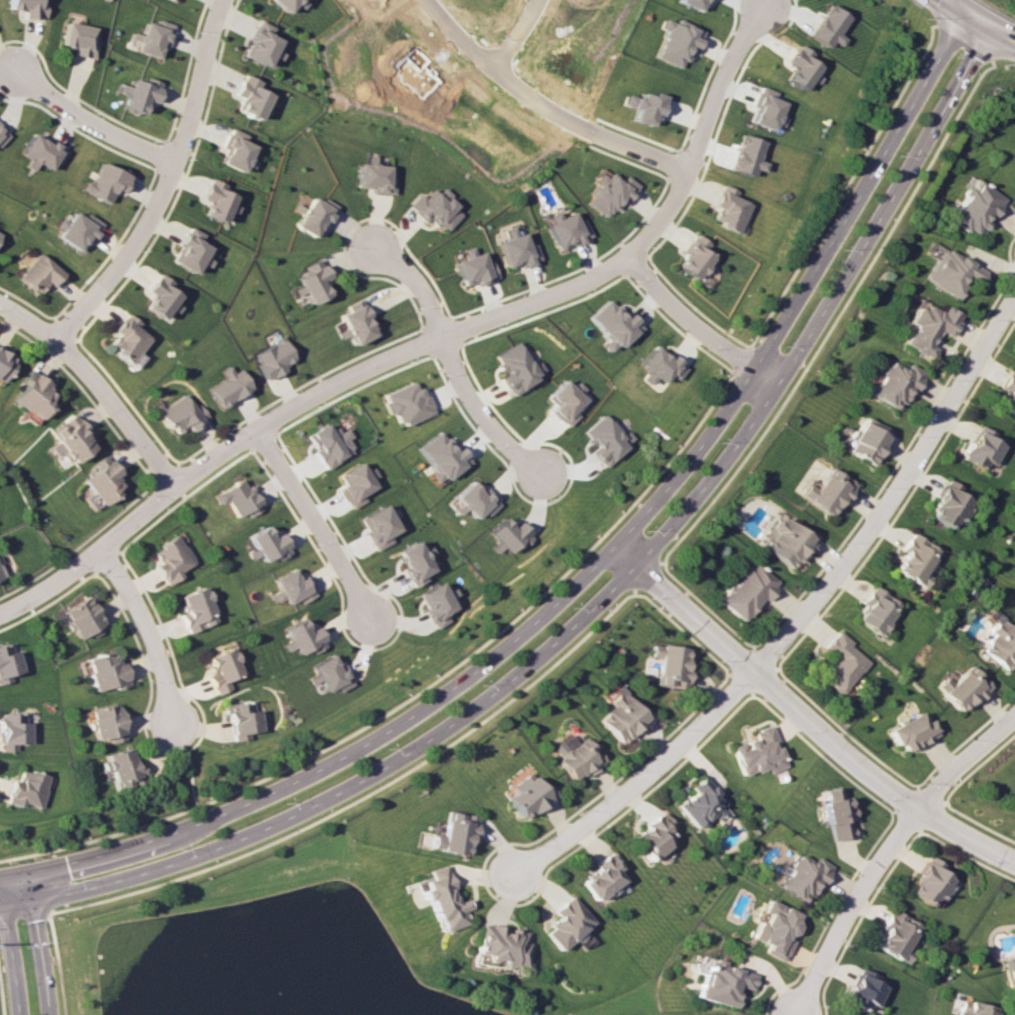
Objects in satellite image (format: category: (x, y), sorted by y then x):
building: (171, 0)
building: (287, 4)
building: (693, 4)
building: (30, 8)
traffic signals: (977, 16)
road: (984, 19)
building: (827, 26)
road: (514, 35)
building: (82, 39)
building: (675, 41)
building: (262, 44)
building: (800, 67)
road: (500, 76)
building: (141, 93)
building: (250, 96)
building: (645, 106)
building: (765, 108)
road: (92, 124)
building: (3, 134)
building: (235, 150)
road: (640, 150)
building: (747, 156)
building: (374, 177)
building: (105, 182)
road: (166, 182)
building: (610, 192)
building: (216, 199)
building: (436, 208)
building: (728, 208)
building: (972, 208)
building: (566, 228)
building: (77, 230)
building: (517, 248)
building: (188, 250)
building: (693, 257)
building: (474, 268)
building: (39, 273)
building: (949, 273)
building: (312, 281)
road: (803, 286)
building: (159, 295)
road: (826, 303)
building: (355, 323)
building: (612, 324)
road: (695, 326)
building: (926, 328)
building: (126, 339)
road: (425, 343)
building: (274, 357)
road: (452, 359)
building: (5, 364)
building: (656, 365)
building: (516, 367)
road: (97, 381)
building: (894, 383)
building: (229, 386)
building: (32, 394)
building: (1007, 394)
building: (565, 401)
building: (407, 403)
building: (182, 414)
building: (69, 439)
building: (605, 439)
building: (867, 440)
building: (331, 444)
building: (982, 448)
building: (441, 456)
building: (102, 480)
building: (356, 484)
building: (827, 491)
building: (238, 498)
building: (473, 500)
building: (948, 505)
building: (379, 525)
road: (320, 531)
building: (510, 535)
building: (789, 542)
building: (170, 559)
building: (914, 560)
building: (414, 561)
building: (748, 592)
building: (437, 603)
building: (197, 609)
building: (876, 611)
road: (800, 614)
building: (82, 618)
road: (153, 633)
building: (300, 638)
building: (1000, 645)
building: (7, 661)
building: (841, 663)
building: (671, 665)
building: (222, 668)
building: (105, 671)
building: (328, 674)
building: (963, 687)
building: (624, 716)
building: (241, 719)
road: (803, 722)
building: (104, 723)
building: (12, 730)
building: (912, 732)
building: (757, 752)
building: (575, 756)
road: (339, 758)
building: (121, 769)
road: (359, 783)
building: (24, 789)
building: (527, 795)
building: (698, 804)
building: (837, 813)
building: (453, 833)
building: (652, 835)
road: (885, 851)
road: (5, 872)
traffic signals: (11, 872)
building: (599, 877)
building: (802, 877)
building: (930, 883)
traffic signals: (30, 899)
building: (440, 899)
road: (15, 903)
traffic signals: (4, 906)
road: (22, 917)
building: (564, 923)
building: (774, 928)
building: (894, 933)
road: (37, 940)
road: (10, 943)
building: (498, 943)
road: (53, 964)
building: (721, 983)
building: (863, 990)
road: (1, 1008)
building: (974, 1008)

